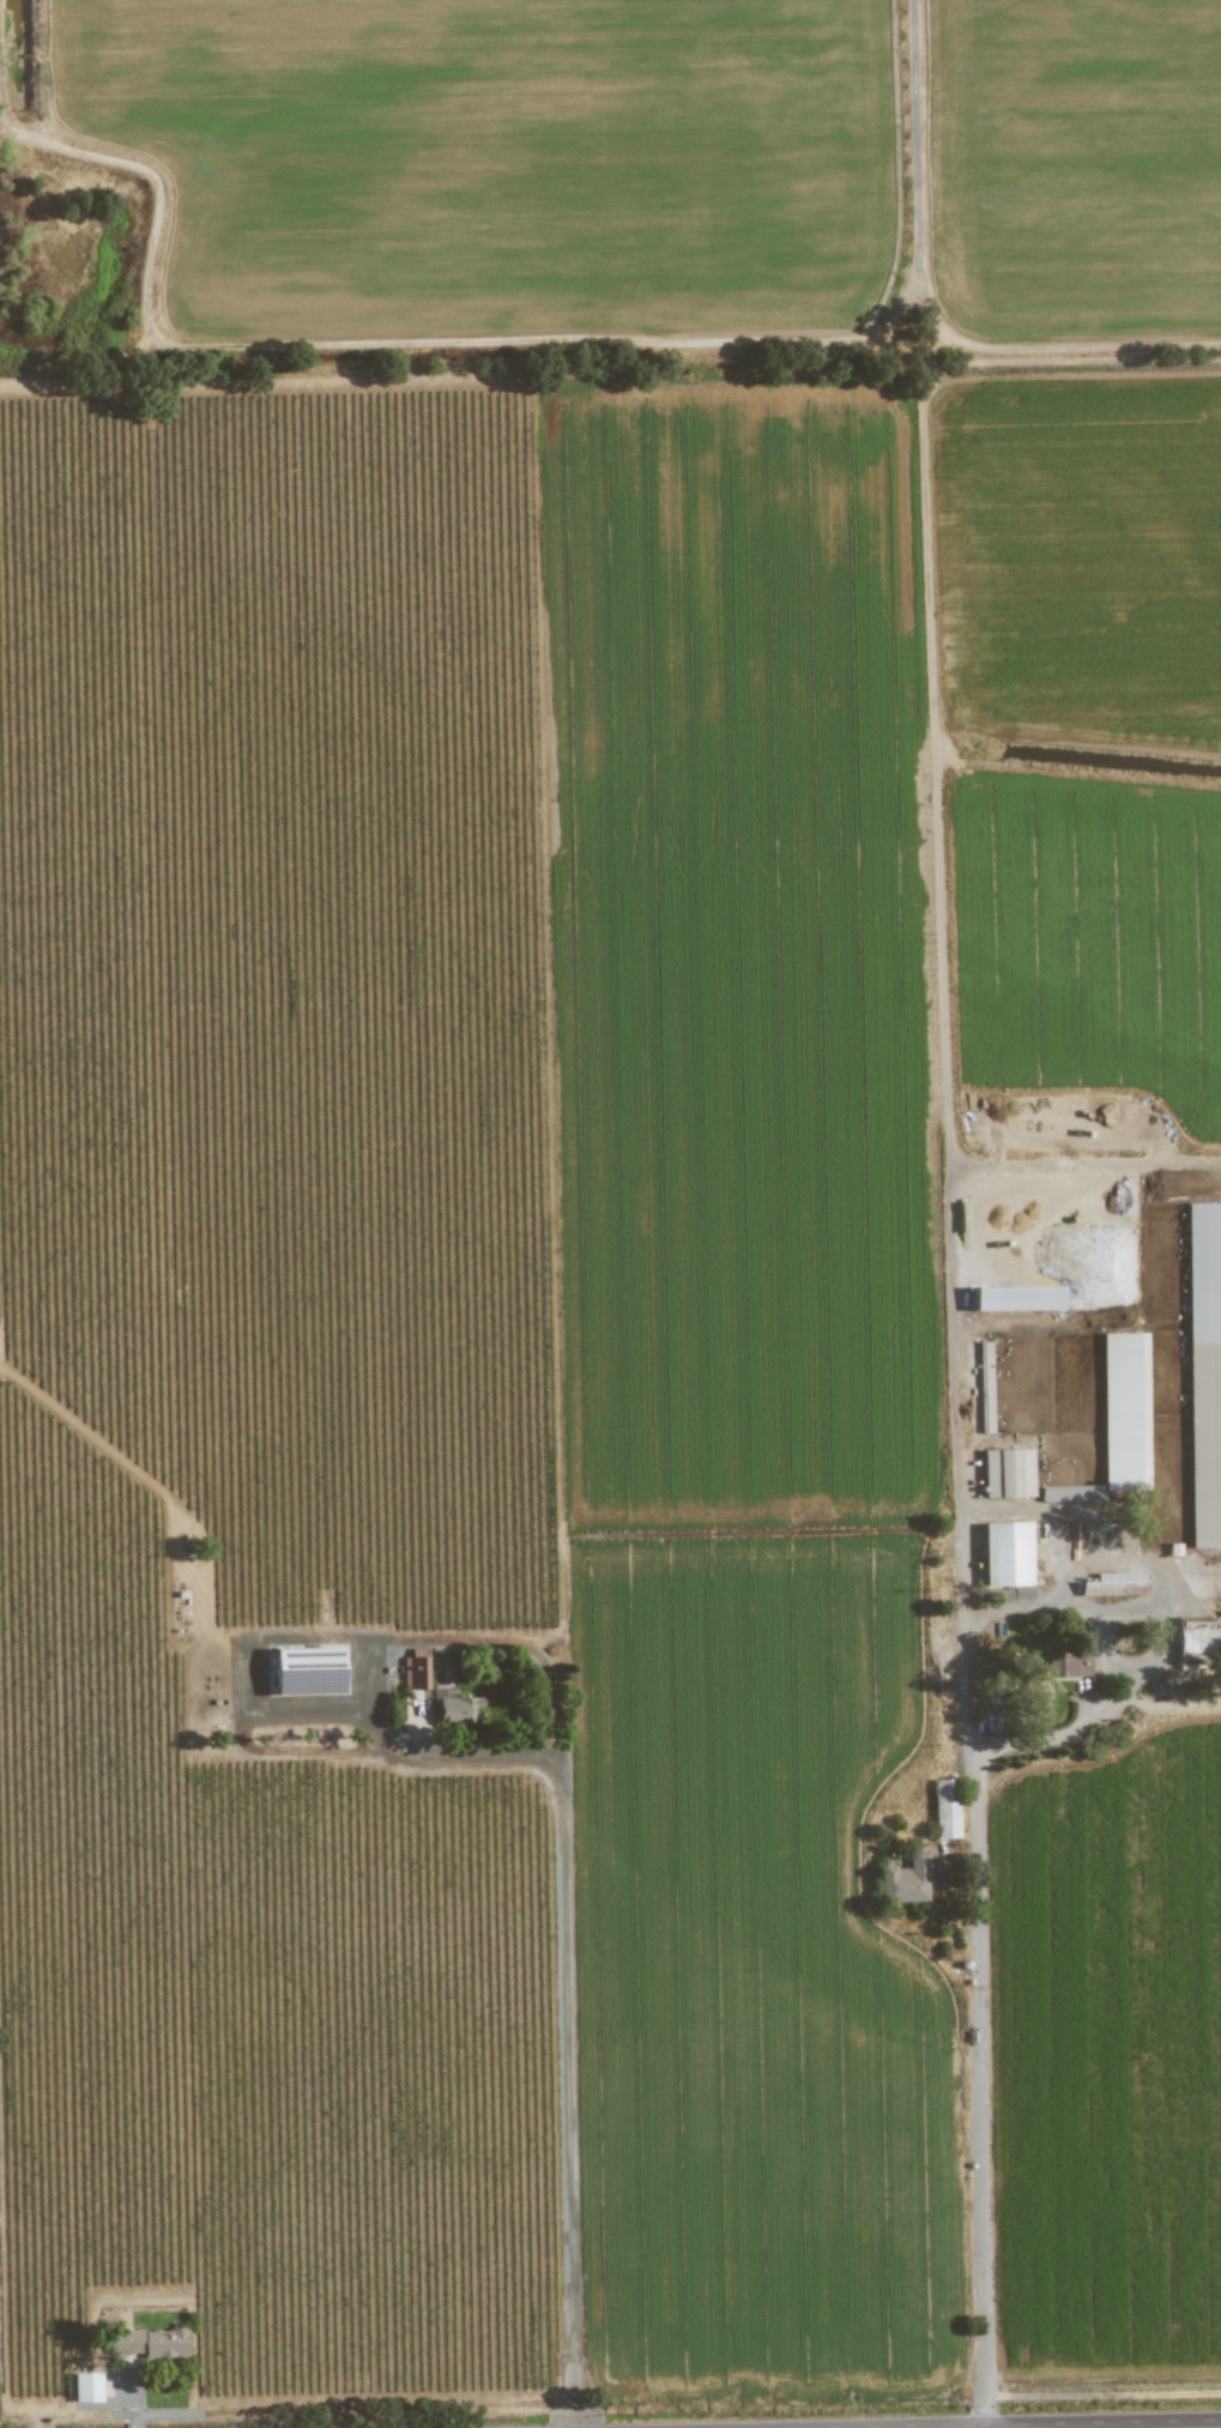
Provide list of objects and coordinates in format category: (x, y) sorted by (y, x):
road: (939, 756)
road: (1086, 1162)
building: (1014, 1298)
building: (1203, 1372)
building: (983, 1388)
building: (1123, 1412)
building: (1005, 1473)
building: (1070, 1493)
road: (1102, 1521)
building: (1004, 1554)
building: (1114, 1584)
road: (249, 1660)
road: (389, 1663)
building: (1070, 1666)
building: (306, 1671)
building: (415, 1671)
road: (1167, 1707)
building: (457, 1710)
building: (944, 1808)
building: (905, 1880)
road: (978, 2086)
road: (574, 2088)
building: (150, 2344)
building: (85, 2387)
road: (1104, 2396)
road: (1063, 2424)
road: (987, 2427)

